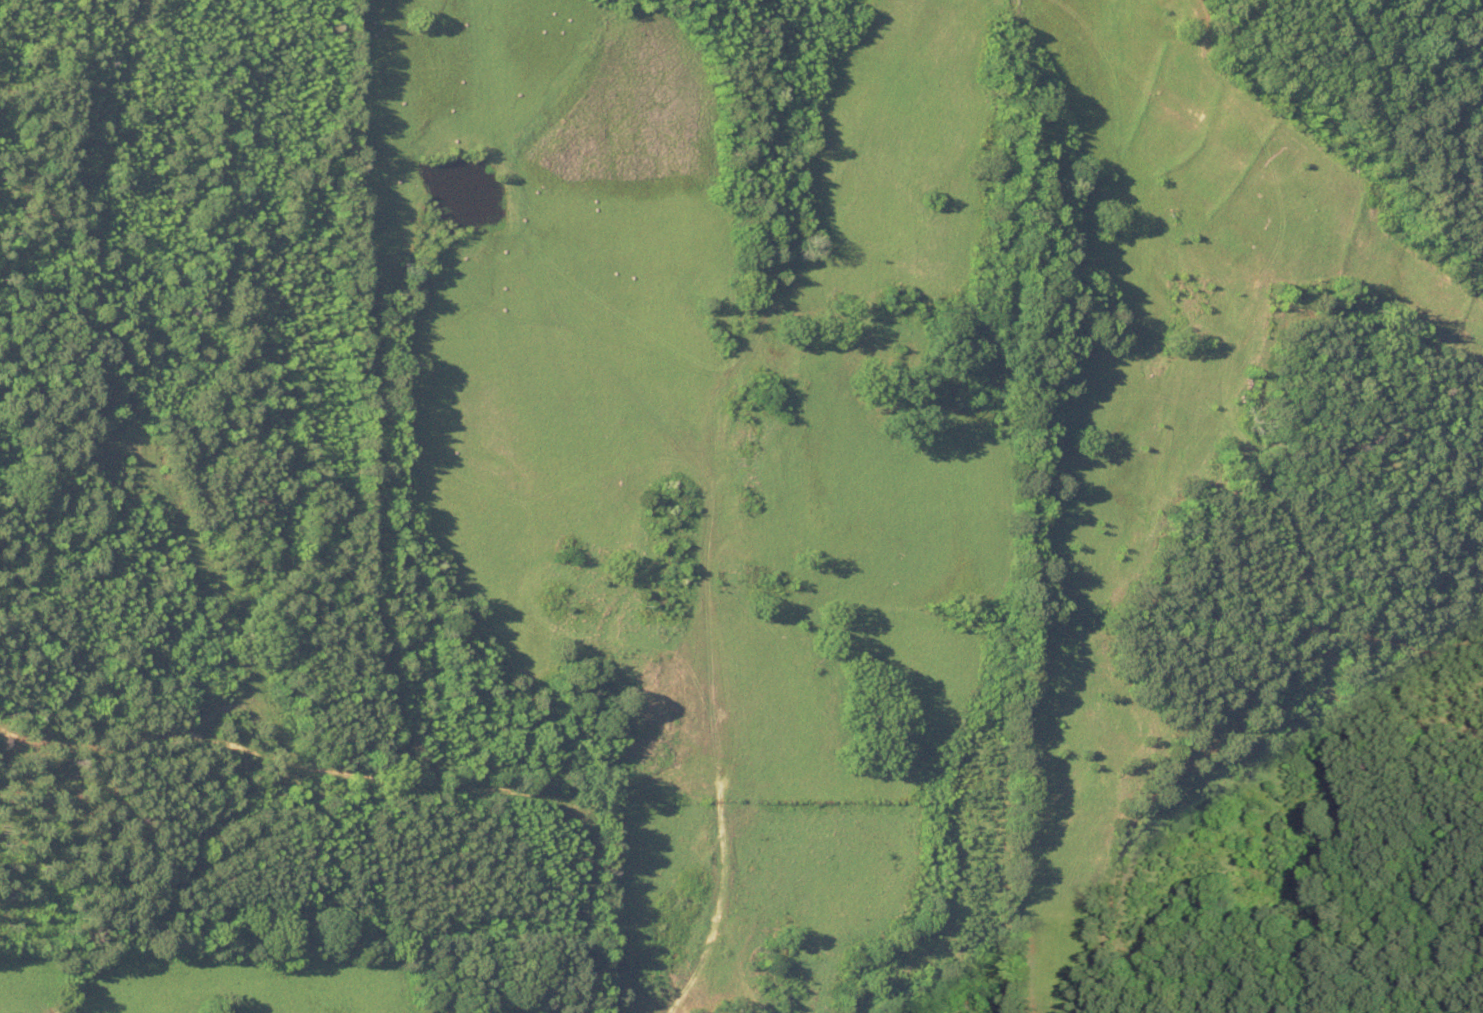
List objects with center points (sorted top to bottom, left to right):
road: (638, 883)

